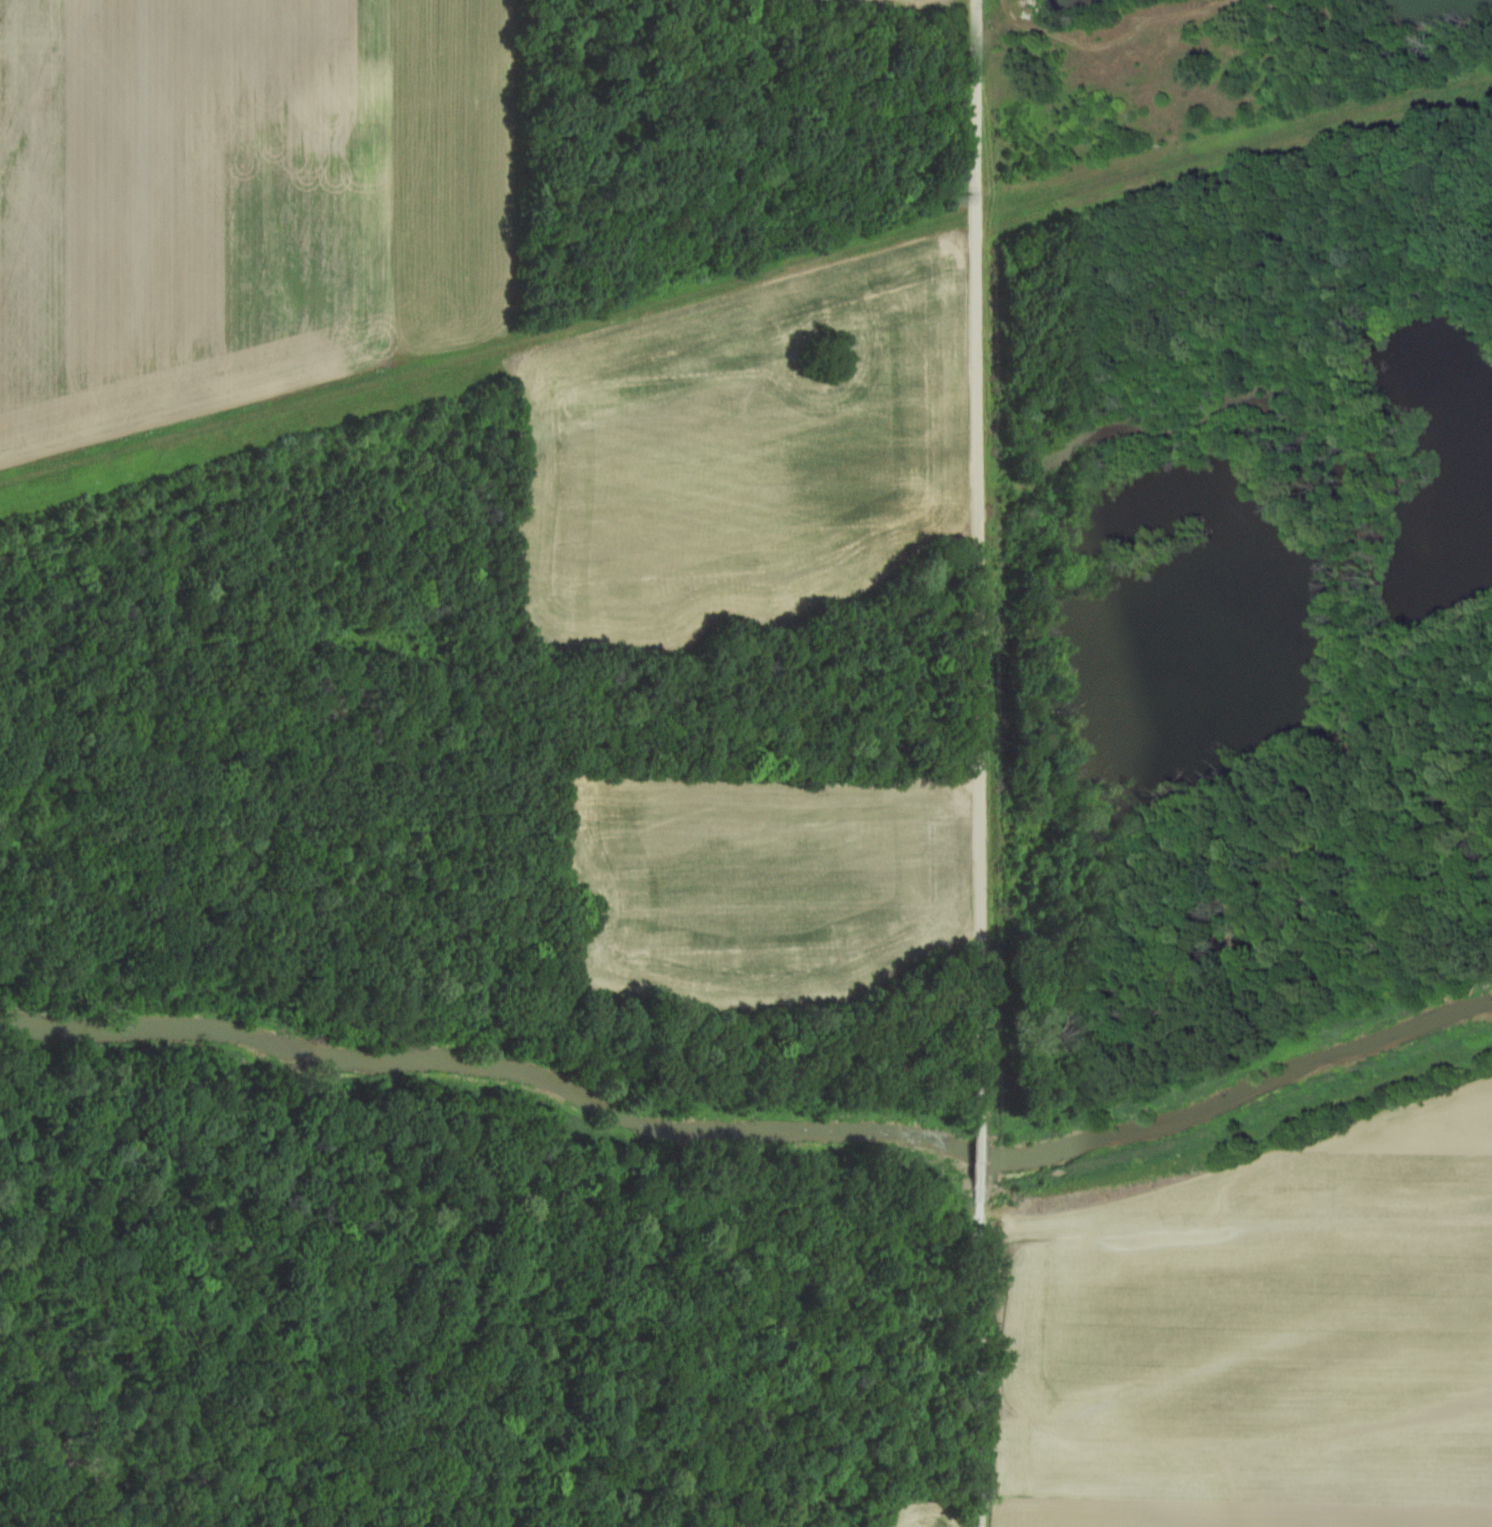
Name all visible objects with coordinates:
road: (981, 561)
river: (754, 1132)
road: (981, 1155)
road: (980, 1357)

